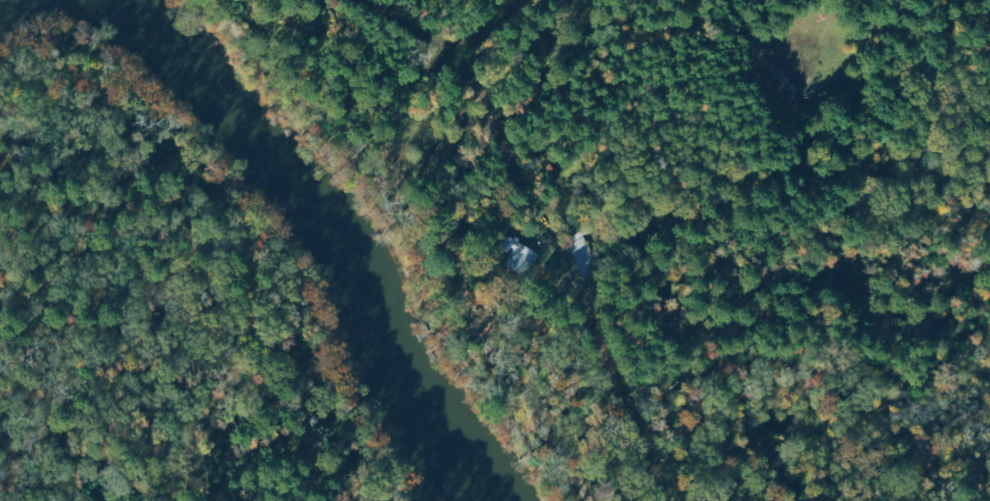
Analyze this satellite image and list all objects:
road: (561, 0)
river: (321, 229)
road: (554, 248)
building: (522, 257)

